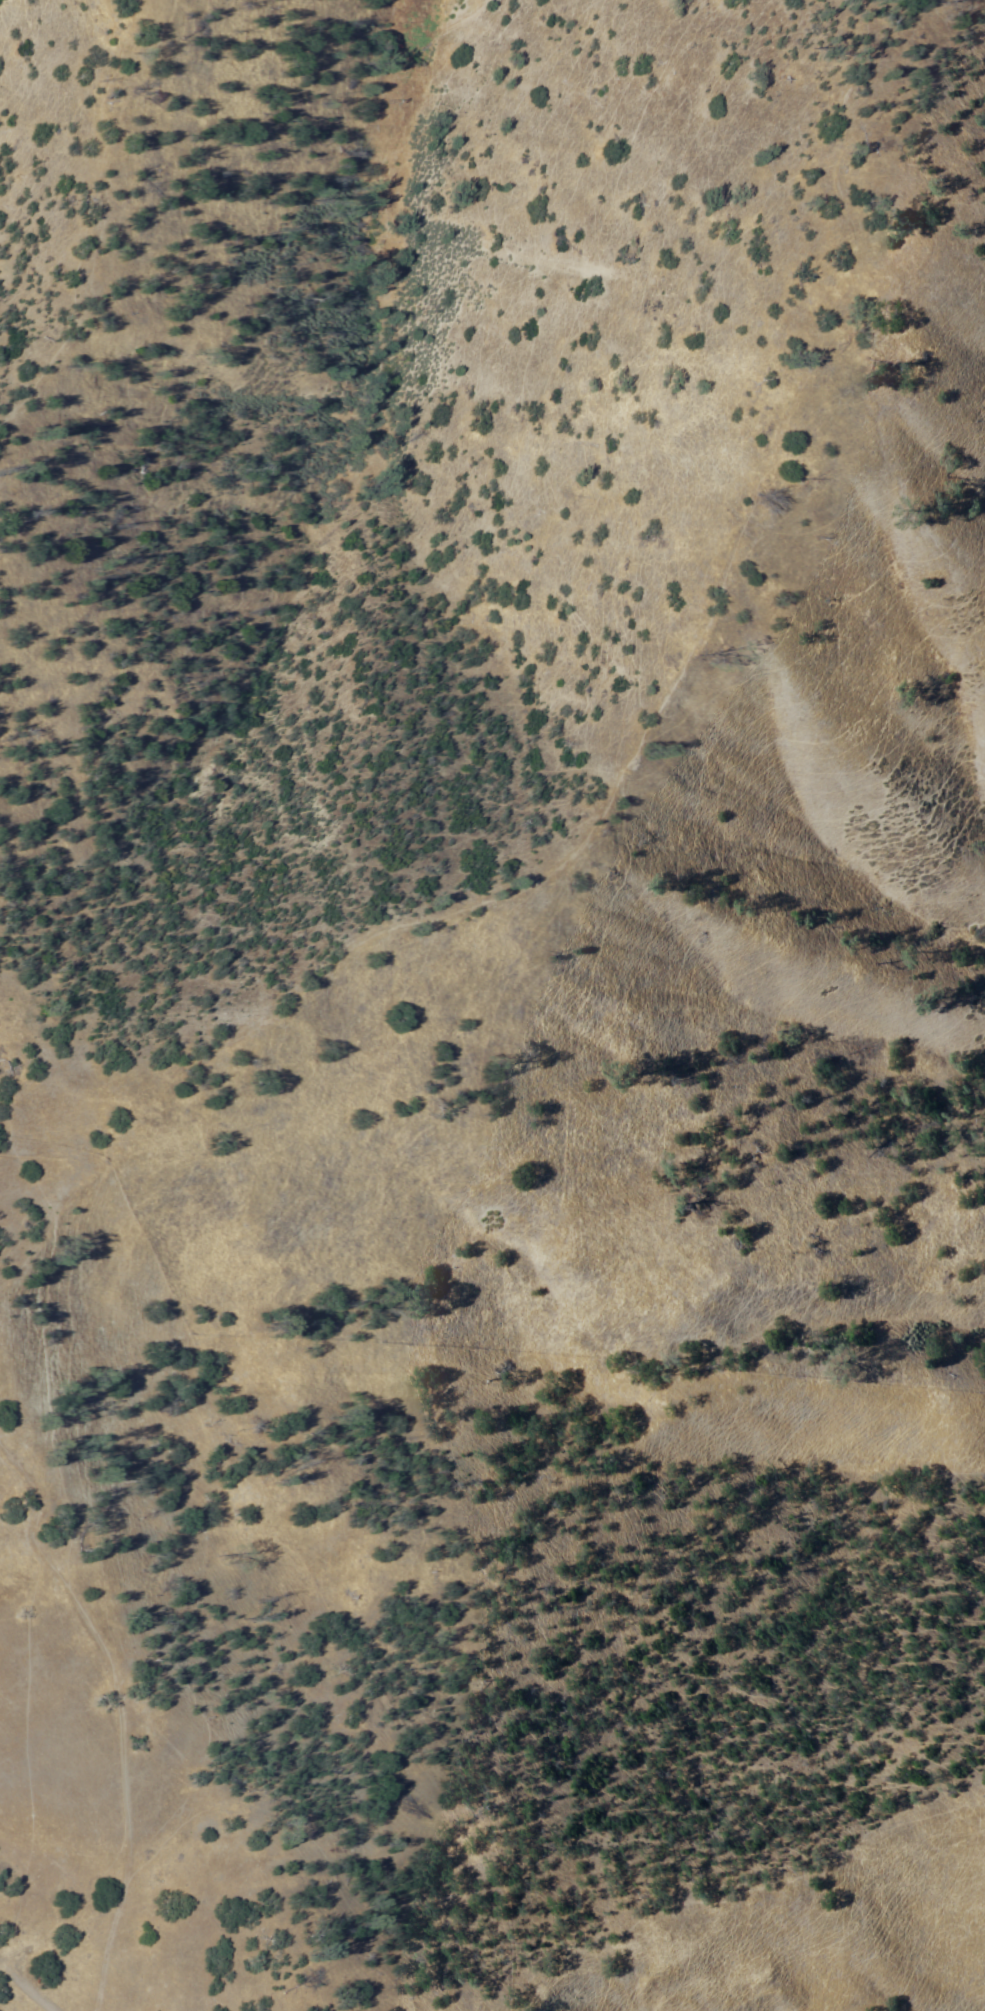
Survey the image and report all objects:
road: (214, 1720)
road: (115, 1921)

